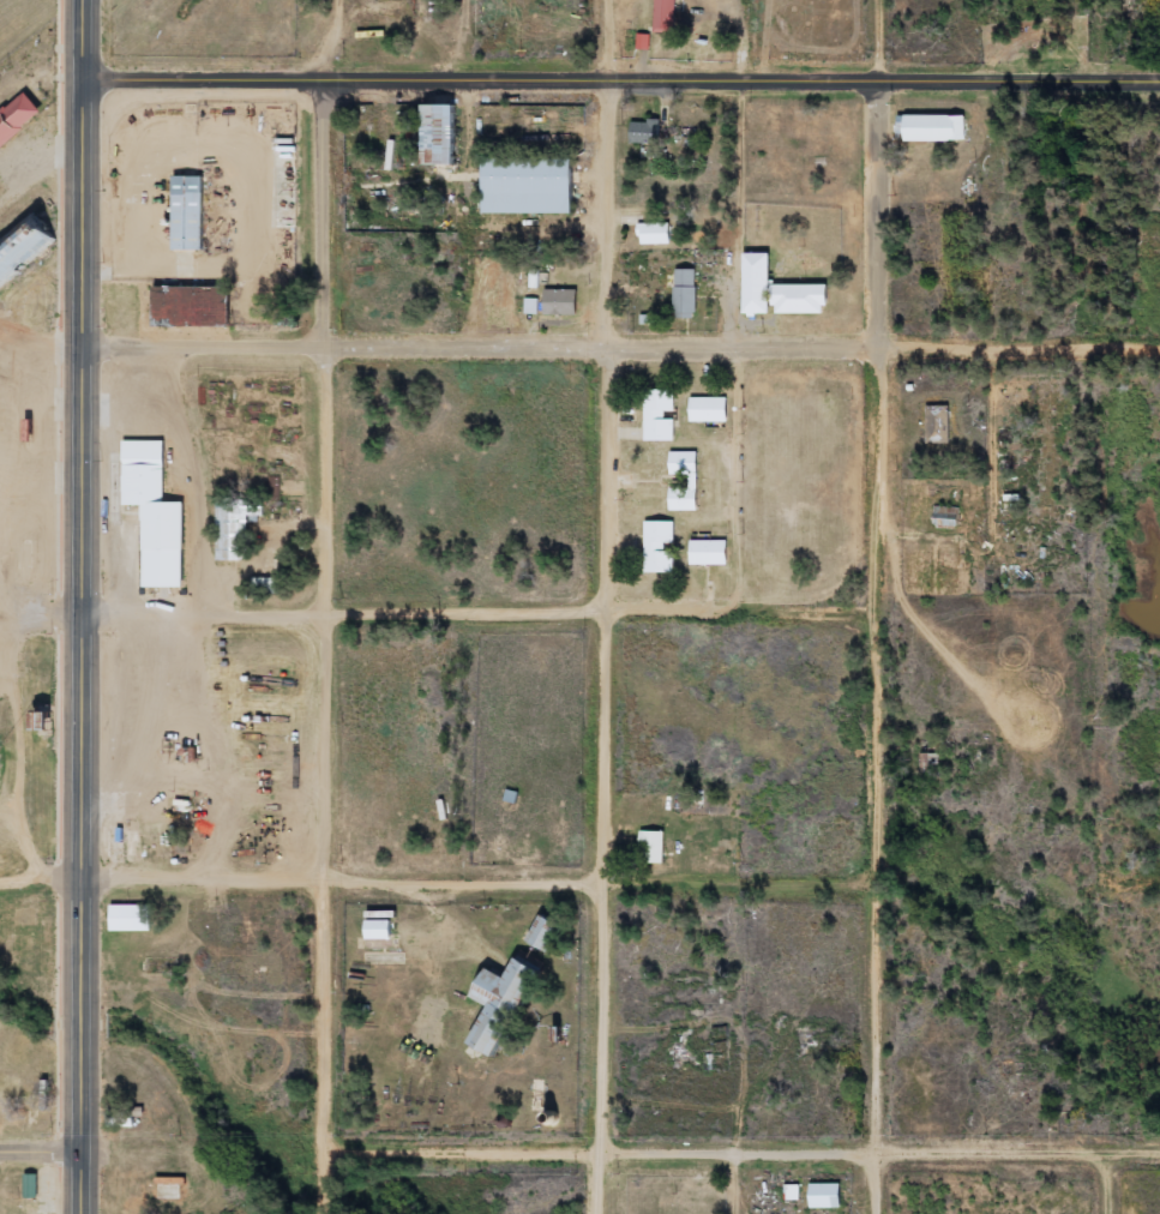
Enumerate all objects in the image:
building: (665, 16)
building: (643, 42)
road: (621, 83)
building: (17, 119)
building: (934, 128)
building: (645, 132)
building: (438, 133)
building: (527, 186)
building: (187, 212)
building: (655, 234)
building: (23, 248)
building: (686, 294)
building: (560, 302)
building: (192, 305)
building: (531, 306)
road: (579, 351)
building: (709, 410)
building: (660, 415)
building: (938, 425)
building: (693, 481)
building: (155, 513)
building: (946, 516)
building: (235, 528)
building: (659, 547)
building: (709, 553)
road: (90, 576)
road: (605, 606)
road: (880, 607)
road: (440, 617)
road: (325, 649)
building: (653, 847)
road: (437, 887)
building: (131, 918)
building: (378, 930)
building: (545, 933)
building: (500, 1004)
building: (120, 1119)
road: (741, 1152)
road: (41, 1154)
road: (82, 1184)
road: (1110, 1184)
building: (31, 1186)
building: (793, 1194)
building: (825, 1196)

